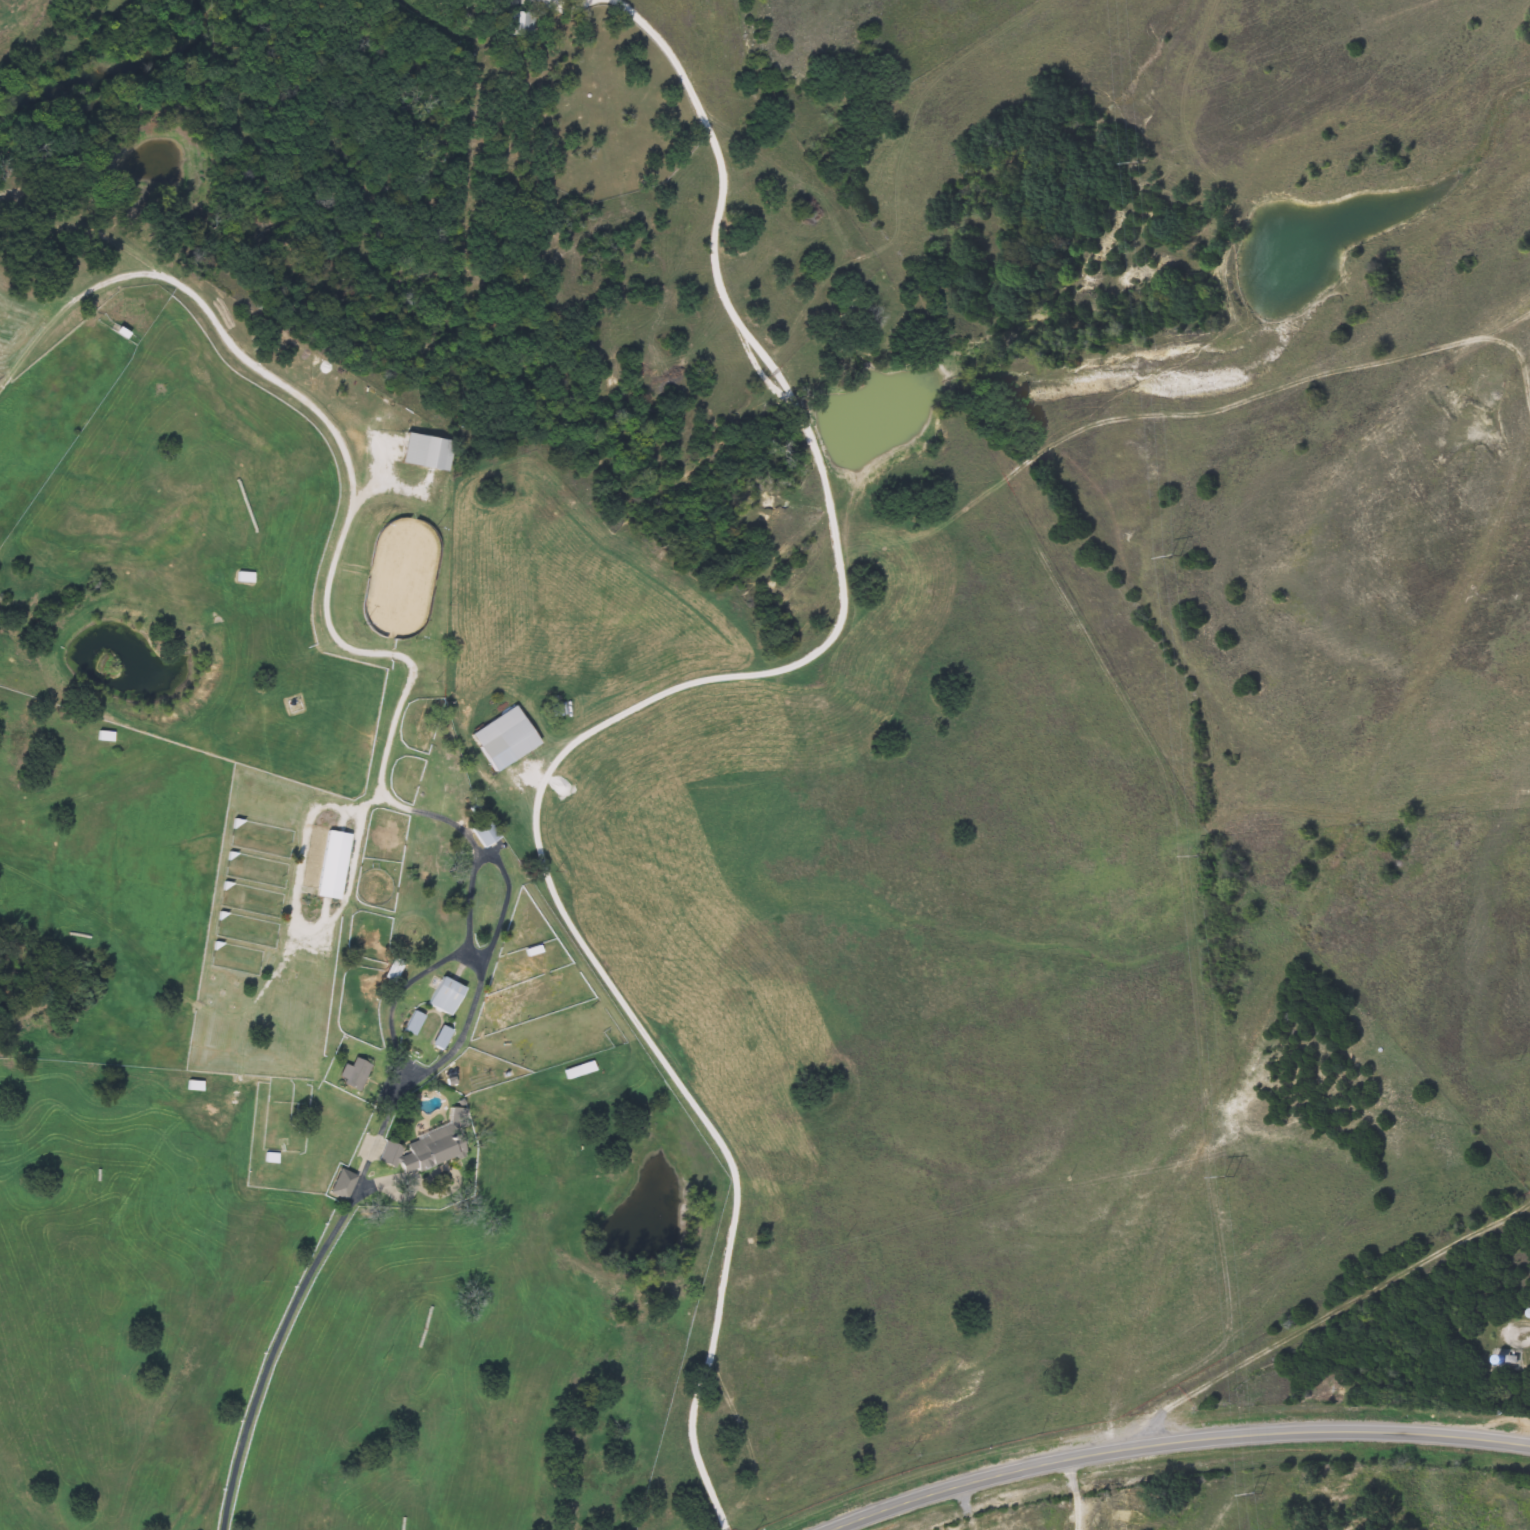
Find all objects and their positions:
building: (422, 453)
building: (241, 577)
road: (327, 616)
road: (625, 714)
building: (102, 736)
building: (502, 744)
building: (478, 831)
building: (328, 865)
road: (476, 953)
road: (428, 967)
building: (388, 970)
building: (440, 996)
building: (407, 1023)
building: (436, 1038)
building: (191, 1086)
building: (426, 1145)
building: (338, 1184)
road: (1525, 1210)
road: (295, 1301)
road: (1298, 1327)
road: (1521, 1335)
road: (1175, 1445)
road: (1076, 1495)

